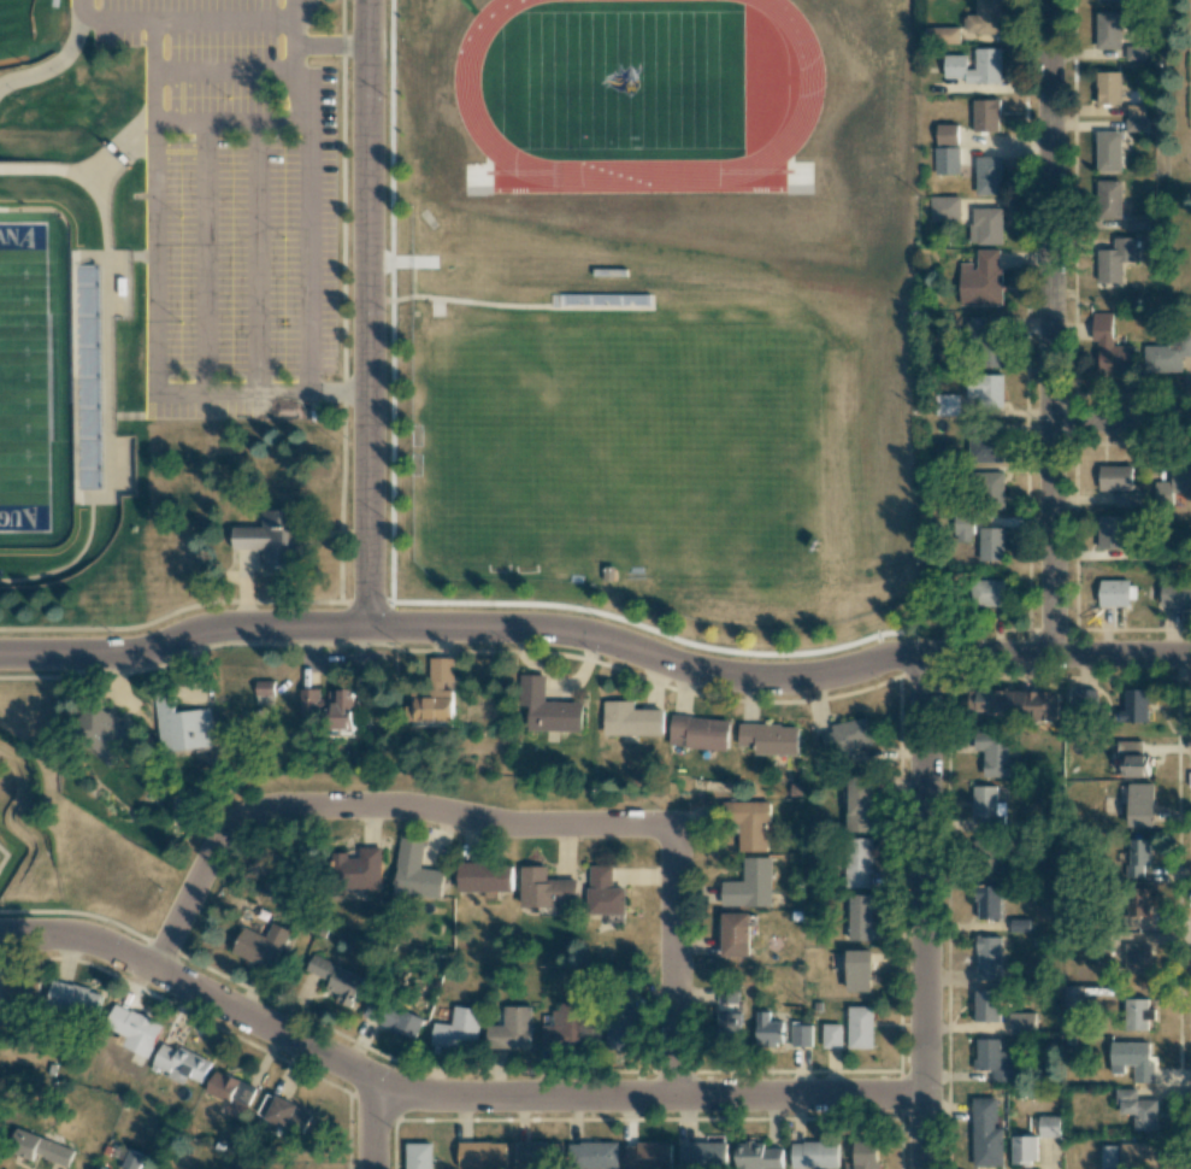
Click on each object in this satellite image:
building: (1108, 0)
building: (985, 17)
road: (183, 23)
road: (297, 23)
park: (29, 30)
building: (1108, 30)
park: (26, 35)
building: (942, 35)
parking lot: (1190, 42)
road: (331, 47)
park: (848, 51)
building: (1136, 53)
building: (975, 66)
road: (226, 75)
road: (297, 84)
building: (1108, 88)
building: (986, 114)
building: (1136, 117)
road: (225, 123)
building: (947, 134)
building: (1108, 151)
building: (948, 160)
building: (989, 176)
building: (1108, 199)
road: (154, 207)
parking lot: (234, 208)
building: (945, 208)
building: (1138, 222)
building: (986, 225)
road: (312, 249)
road: (206, 258)
road: (257, 258)
building: (1115, 259)
building: (981, 278)
road: (366, 313)
road: (1053, 325)
building: (984, 346)
building: (1109, 346)
building: (1166, 354)
stadium: (59, 366)
park: (22, 376)
building: (87, 376)
building: (986, 388)
road: (260, 393)
building: (947, 405)
road: (1122, 425)
building: (985, 450)
park: (625, 452)
building: (1115, 477)
building: (1174, 484)
building: (989, 489)
building: (1127, 499)
building: (1109, 531)
building: (275, 537)
building: (991, 544)
building: (985, 593)
building: (1175, 594)
road: (597, 638)
building: (265, 687)
building: (434, 694)
building: (1086, 701)
building: (1014, 704)
building: (1136, 705)
building: (329, 706)
building: (549, 709)
building: (631, 719)
building: (182, 726)
building: (104, 730)
building: (698, 733)
building: (847, 736)
building: (770, 739)
building: (995, 754)
building: (1133, 759)
road: (362, 803)
building: (860, 804)
building: (1140, 805)
building: (987, 807)
building: (750, 826)
building: (985, 853)
building: (1136, 858)
building: (360, 869)
building: (415, 871)
building: (485, 876)
building: (749, 885)
building: (546, 889)
building: (605, 892)
building: (987, 901)
building: (1134, 904)
road: (921, 910)
building: (860, 917)
building: (735, 934)
building: (261, 945)
building: (989, 958)
building: (1137, 958)
road: (673, 963)
building: (859, 970)
building: (335, 979)
building: (20, 993)
building: (727, 997)
building: (1073, 997)
building: (73, 998)
building: (986, 1005)
building: (1137, 1014)
building: (405, 1023)
building: (1021, 1023)
building: (565, 1027)
building: (620, 1027)
building: (860, 1027)
building: (727, 1028)
building: (135, 1029)
building: (458, 1029)
building: (511, 1029)
building: (767, 1029)
building: (801, 1035)
building: (832, 1035)
building: (994, 1059)
building: (1131, 1059)
building: (182, 1063)
building: (230, 1088)
road: (446, 1094)
building: (1137, 1109)
building: (285, 1114)
road: (372, 1122)
building: (1049, 1126)
building: (986, 1133)
building: (42, 1150)
building: (1024, 1150)
building: (540, 1152)
building: (482, 1155)
building: (702, 1155)
building: (814, 1155)
building: (419, 1156)
building: (592, 1156)
building: (647, 1156)
building: (757, 1156)
building: (866, 1156)
building: (1138, 1156)
building: (1108, 1157)
building: (131, 1161)
building: (100, 1168)

